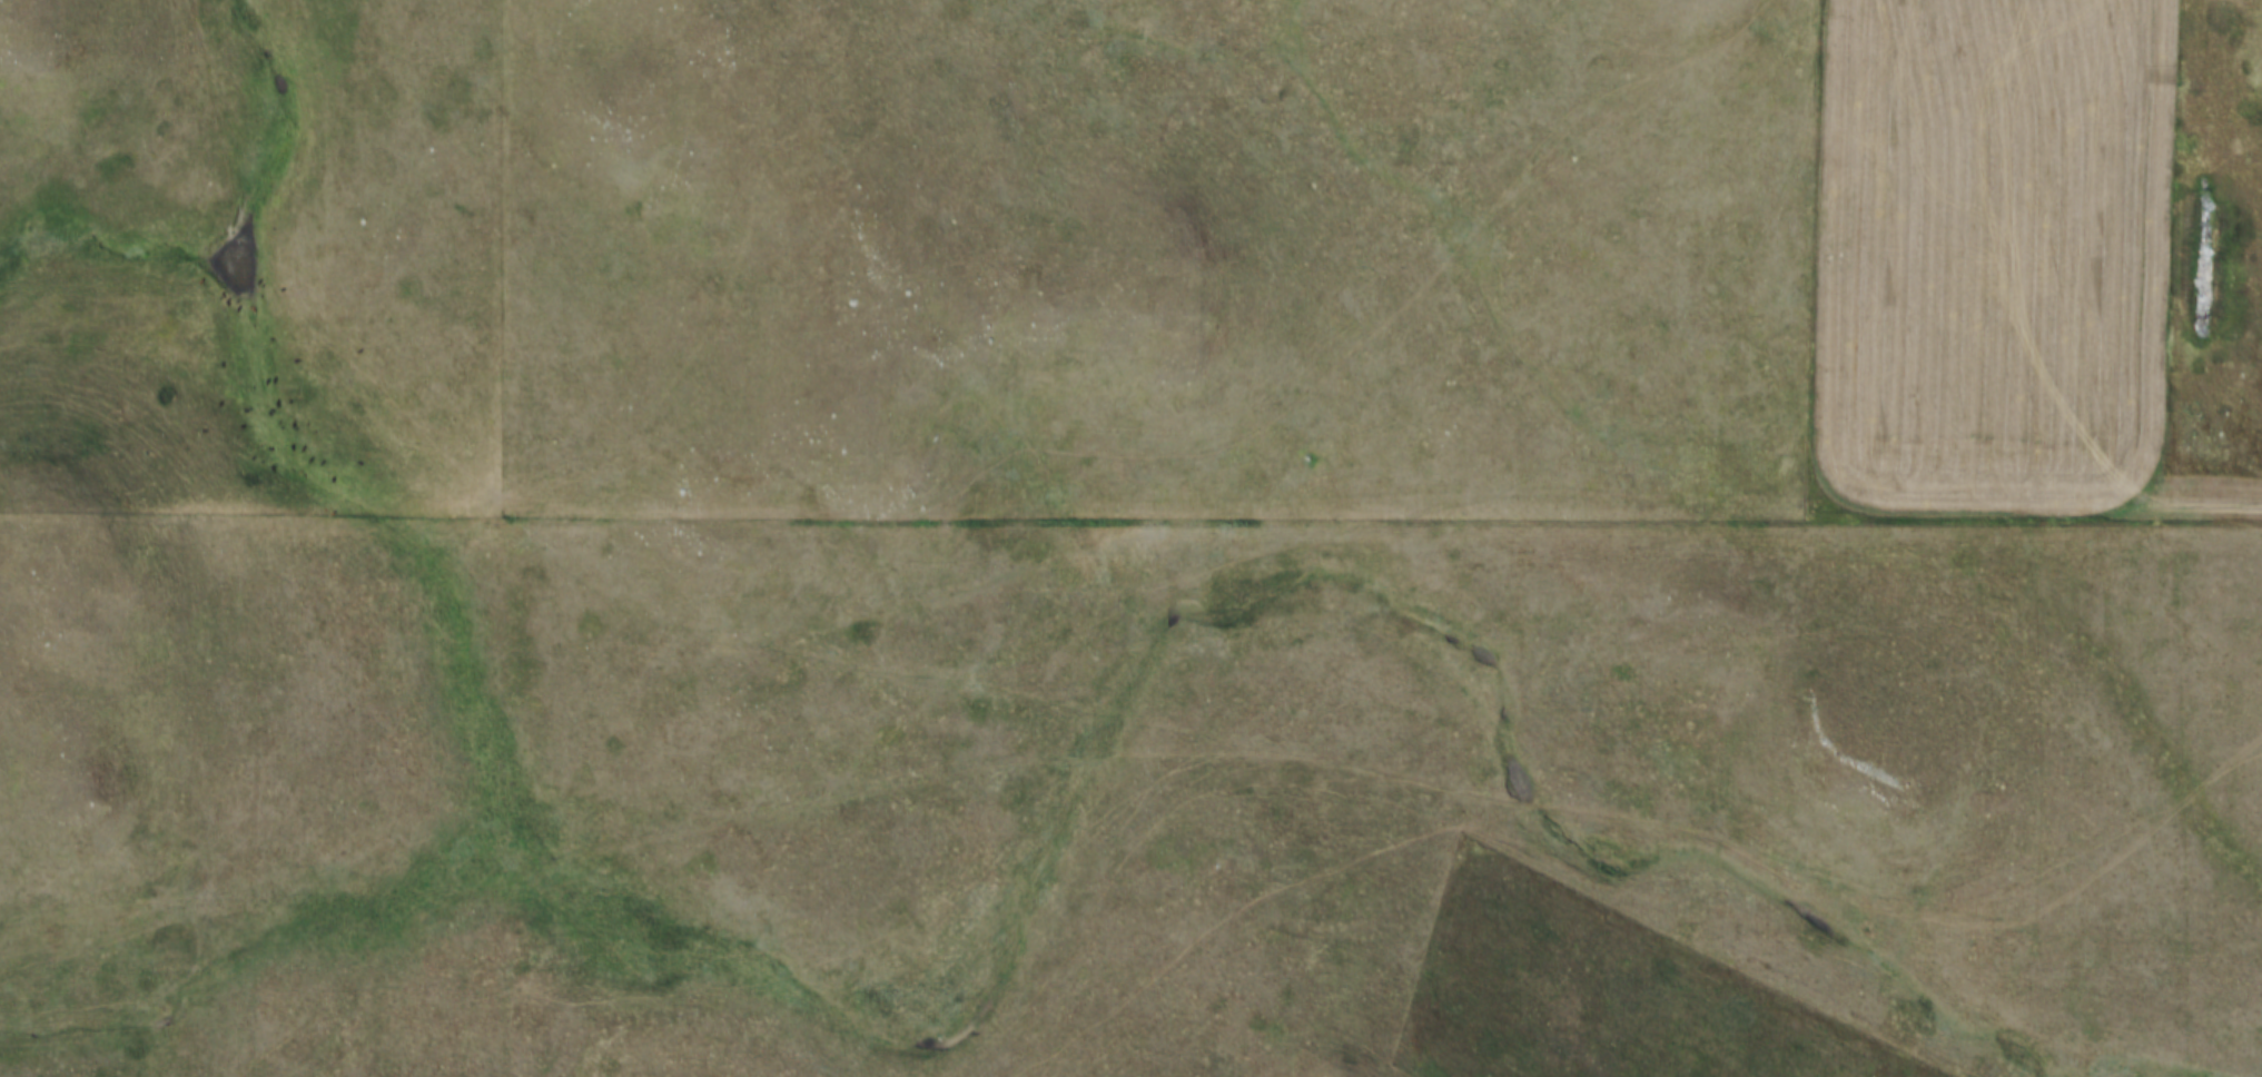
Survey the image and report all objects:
road: (505, 256)
road: (1130, 517)

